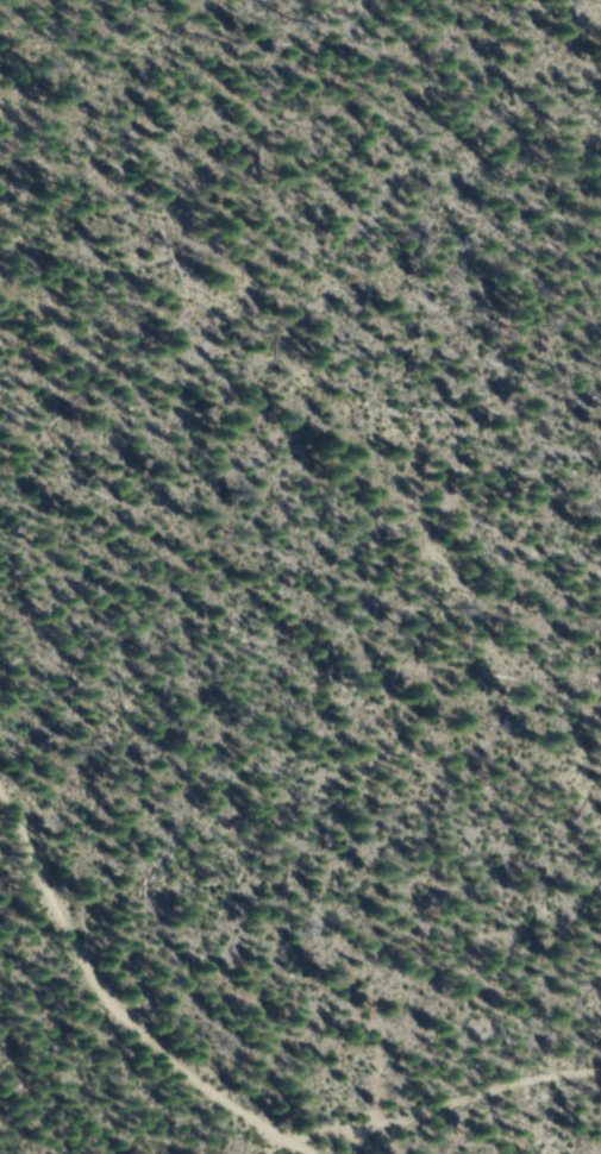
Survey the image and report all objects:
road: (358, 401)
road: (130, 953)

